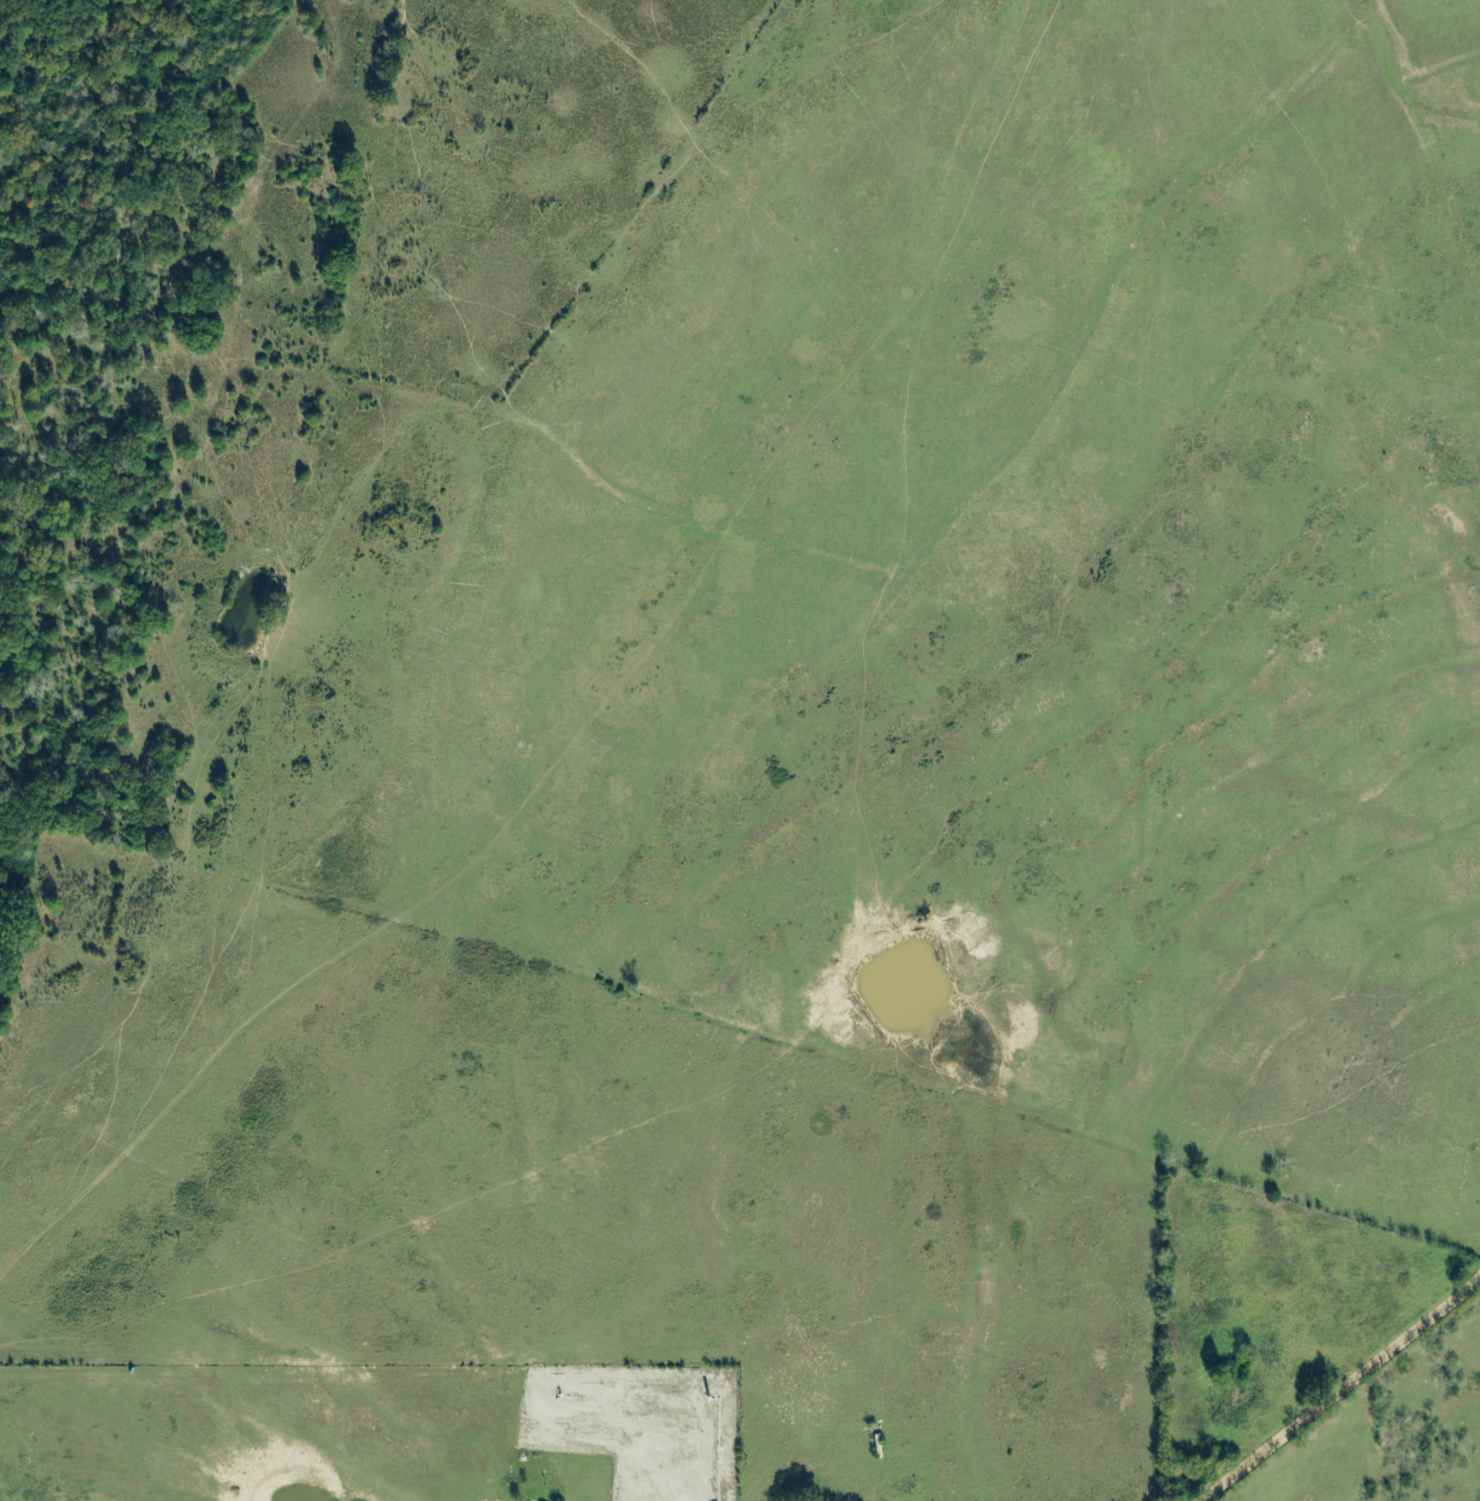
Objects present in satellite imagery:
road: (1346, 1393)

